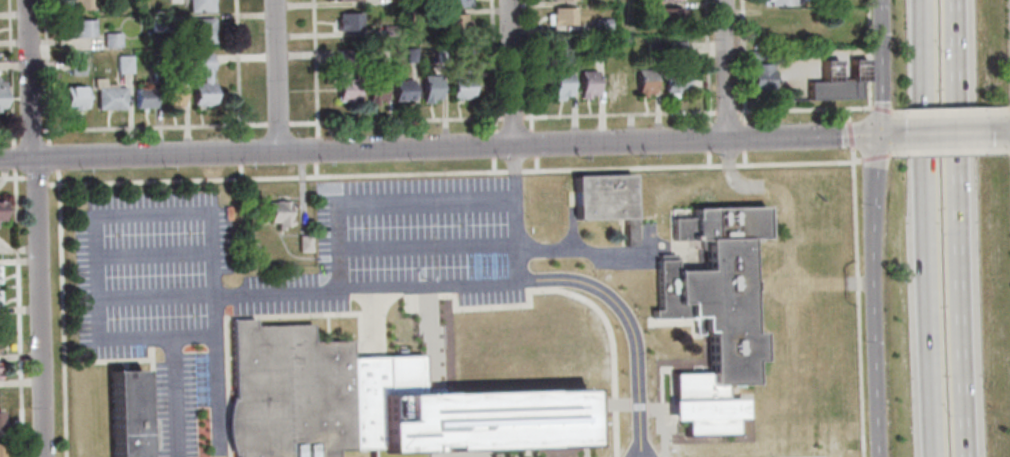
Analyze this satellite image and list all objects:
building: (564, 0)
building: (664, 0)
building: (779, 2)
building: (453, 3)
building: (79, 4)
building: (198, 5)
building: (415, 15)
building: (561, 16)
building: (669, 16)
building: (347, 21)
building: (452, 22)
building: (601, 22)
building: (157, 23)
building: (779, 23)
building: (80, 28)
building: (387, 29)
building: (199, 30)
building: (111, 39)
building: (566, 47)
building: (676, 48)
building: (652, 49)
building: (596, 51)
building: (461, 52)
building: (410, 54)
building: (437, 54)
building: (756, 54)
road: (865, 54)
building: (346, 56)
building: (180, 62)
road: (741, 62)
road: (705, 63)
building: (123, 64)
road: (528, 65)
road: (492, 66)
building: (76, 67)
road: (237, 69)
road: (314, 69)
road: (724, 70)
road: (46, 71)
road: (509, 73)
road: (10, 74)
road: (275, 76)
building: (760, 77)
building: (674, 80)
building: (202, 81)
building: (643, 81)
building: (835, 81)
building: (559, 83)
building: (586, 83)
building: (344, 86)
building: (459, 86)
building: (428, 87)
building: (372, 89)
building: (400, 89)
building: (170, 91)
building: (1, 95)
building: (73, 96)
building: (143, 97)
building: (110, 98)
road: (802, 110)
road: (878, 110)
road: (1008, 110)
road: (725, 112)
road: (949, 112)
road: (890, 114)
road: (619, 115)
road: (845, 115)
road: (512, 119)
road: (395, 122)
road: (276, 125)
road: (153, 129)
road: (1008, 132)
road: (30, 133)
road: (950, 133)
road: (9, 134)
road: (847, 135)
traffic signals: (877, 136)
road: (742, 137)
road: (707, 139)
road: (493, 145)
road: (533, 145)
road: (446, 147)
road: (1008, 149)
road: (950, 151)
road: (315, 152)
road: (239, 154)
road: (851, 155)
road: (742, 157)
road: (872, 157)
road: (52, 158)
road: (706, 159)
road: (13, 160)
road: (535, 166)
road: (493, 167)
road: (315, 172)
road: (240, 174)
road: (449, 175)
road: (11, 179)
road: (35, 183)
road: (383, 198)
building: (606, 201)
building: (1, 210)
building: (279, 212)
road: (101, 214)
road: (514, 214)
road: (36, 228)
parking lot: (420, 228)
road: (870, 228)
road: (930, 228)
road: (965, 228)
building: (303, 243)
road: (429, 246)
parking lot: (149, 261)
building: (0, 273)
parking lot: (273, 276)
road: (498, 283)
road: (17, 314)
road: (61, 314)
building: (712, 314)
road: (138, 338)
building: (0, 344)
building: (0, 370)
road: (216, 375)
building: (289, 393)
road: (173, 397)
parking lot: (176, 414)
building: (129, 415)
building: (454, 415)
building: (1, 420)
building: (0, 449)
road: (632, 451)

